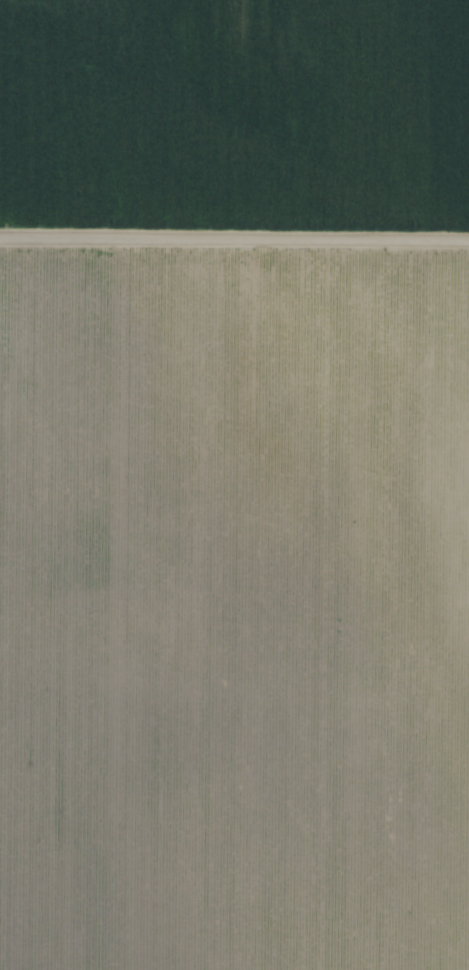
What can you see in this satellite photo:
crop: (234, 485)

